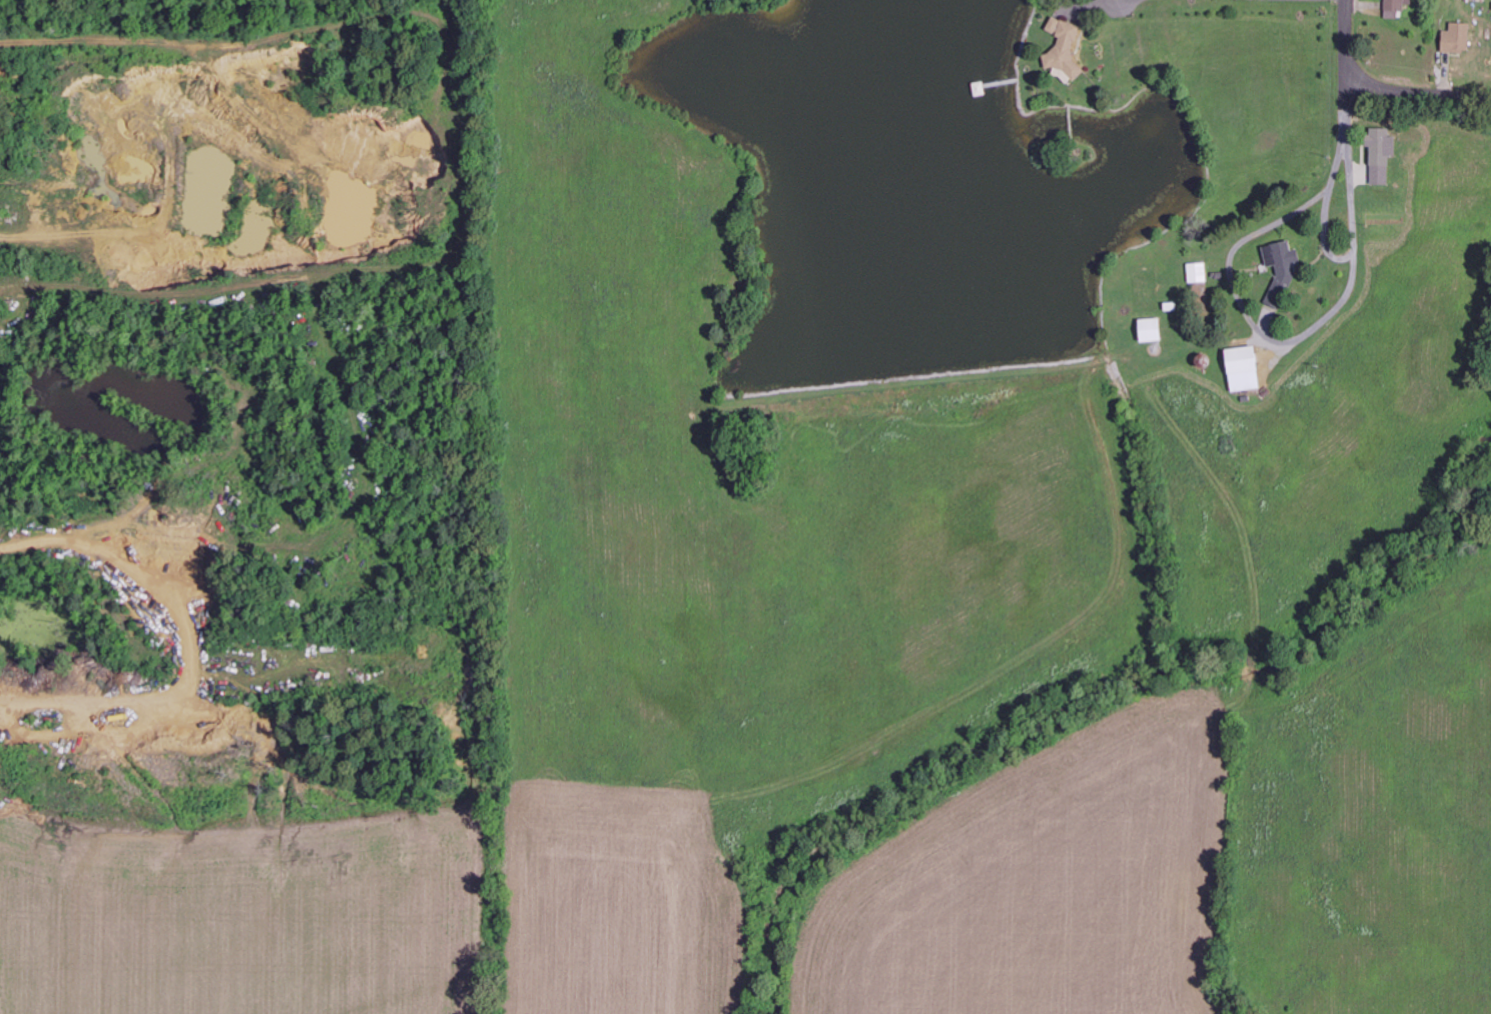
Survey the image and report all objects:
building: (1394, 8)
building: (1457, 38)
building: (1065, 50)
road: (1380, 89)
building: (1381, 154)
building: (1281, 271)
building: (1198, 272)
building: (1151, 330)
building: (1244, 369)

